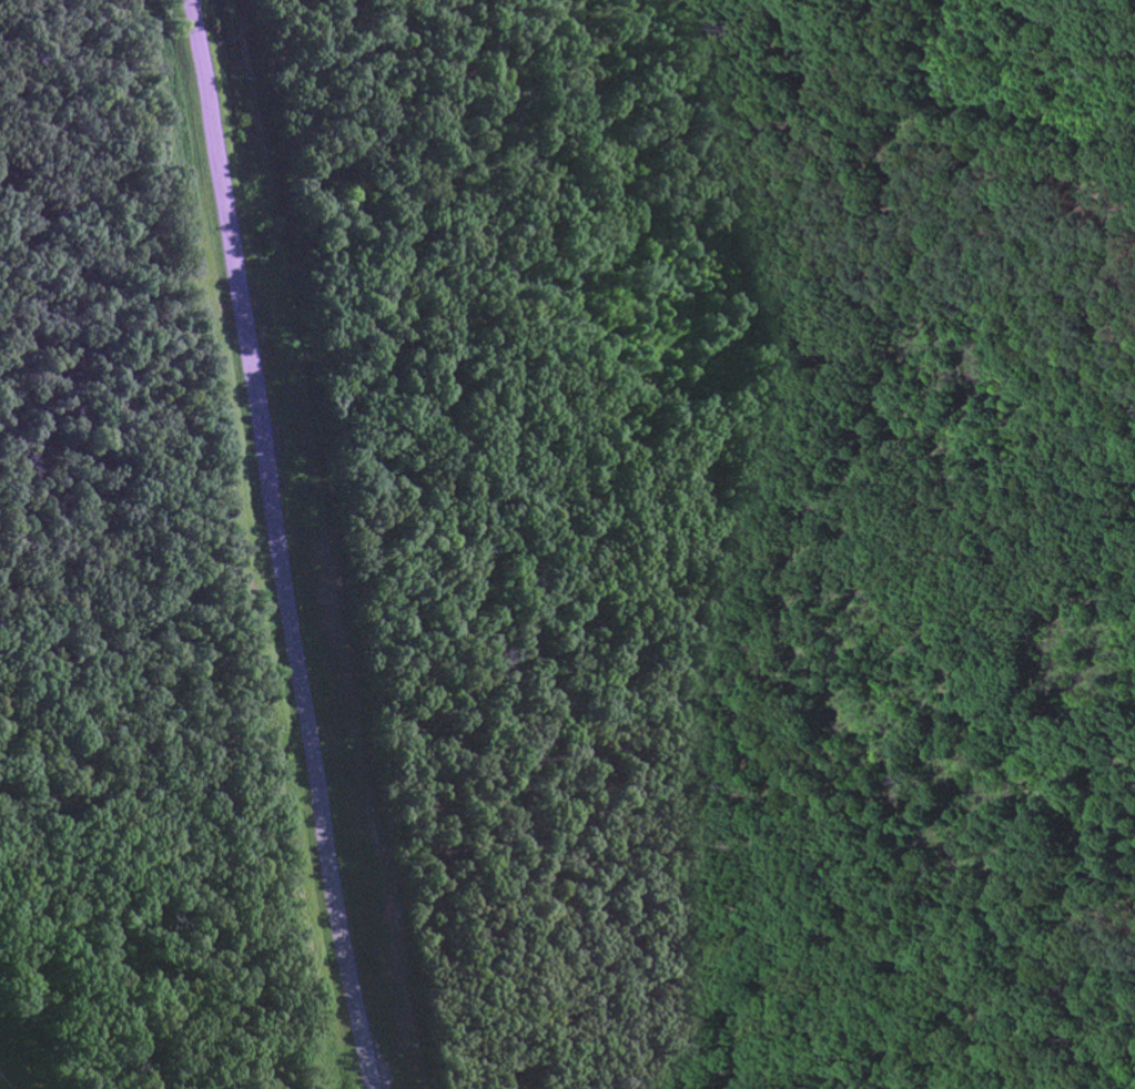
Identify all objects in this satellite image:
road: (280, 544)

